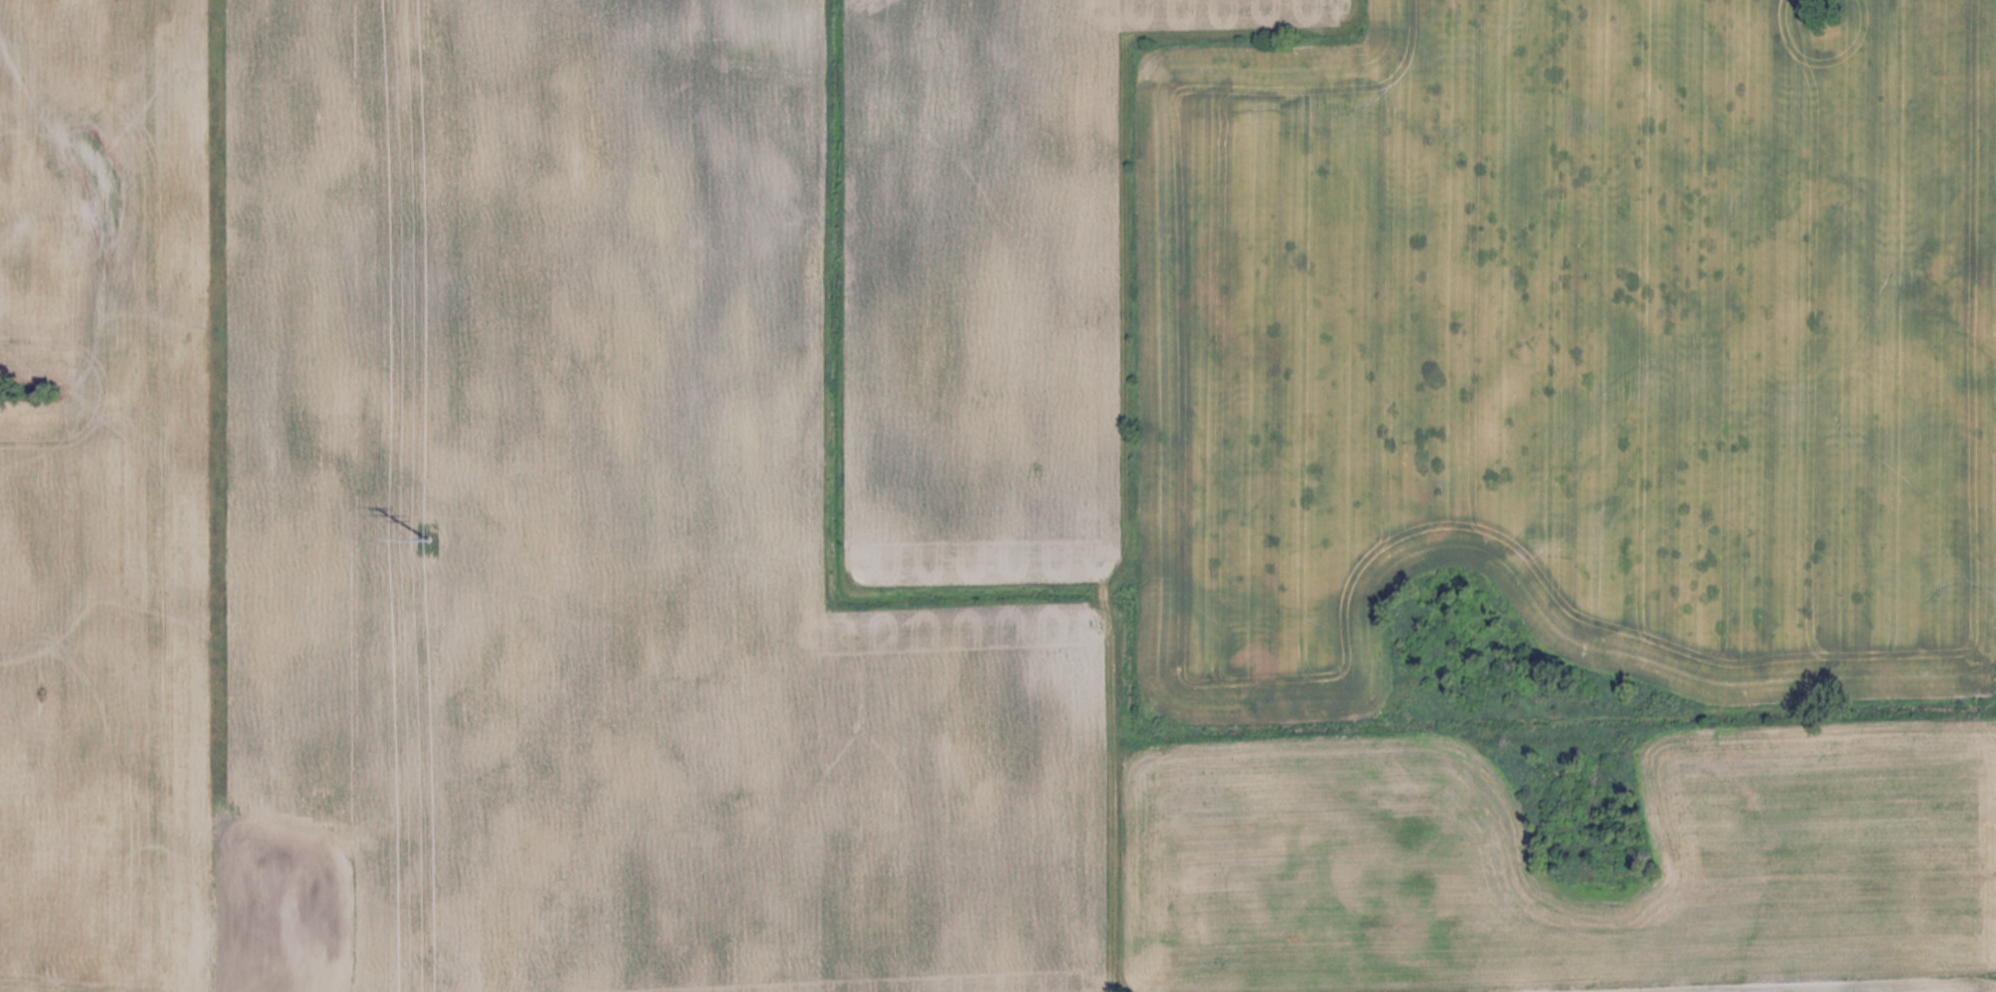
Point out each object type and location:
power tower: (425, 530)

